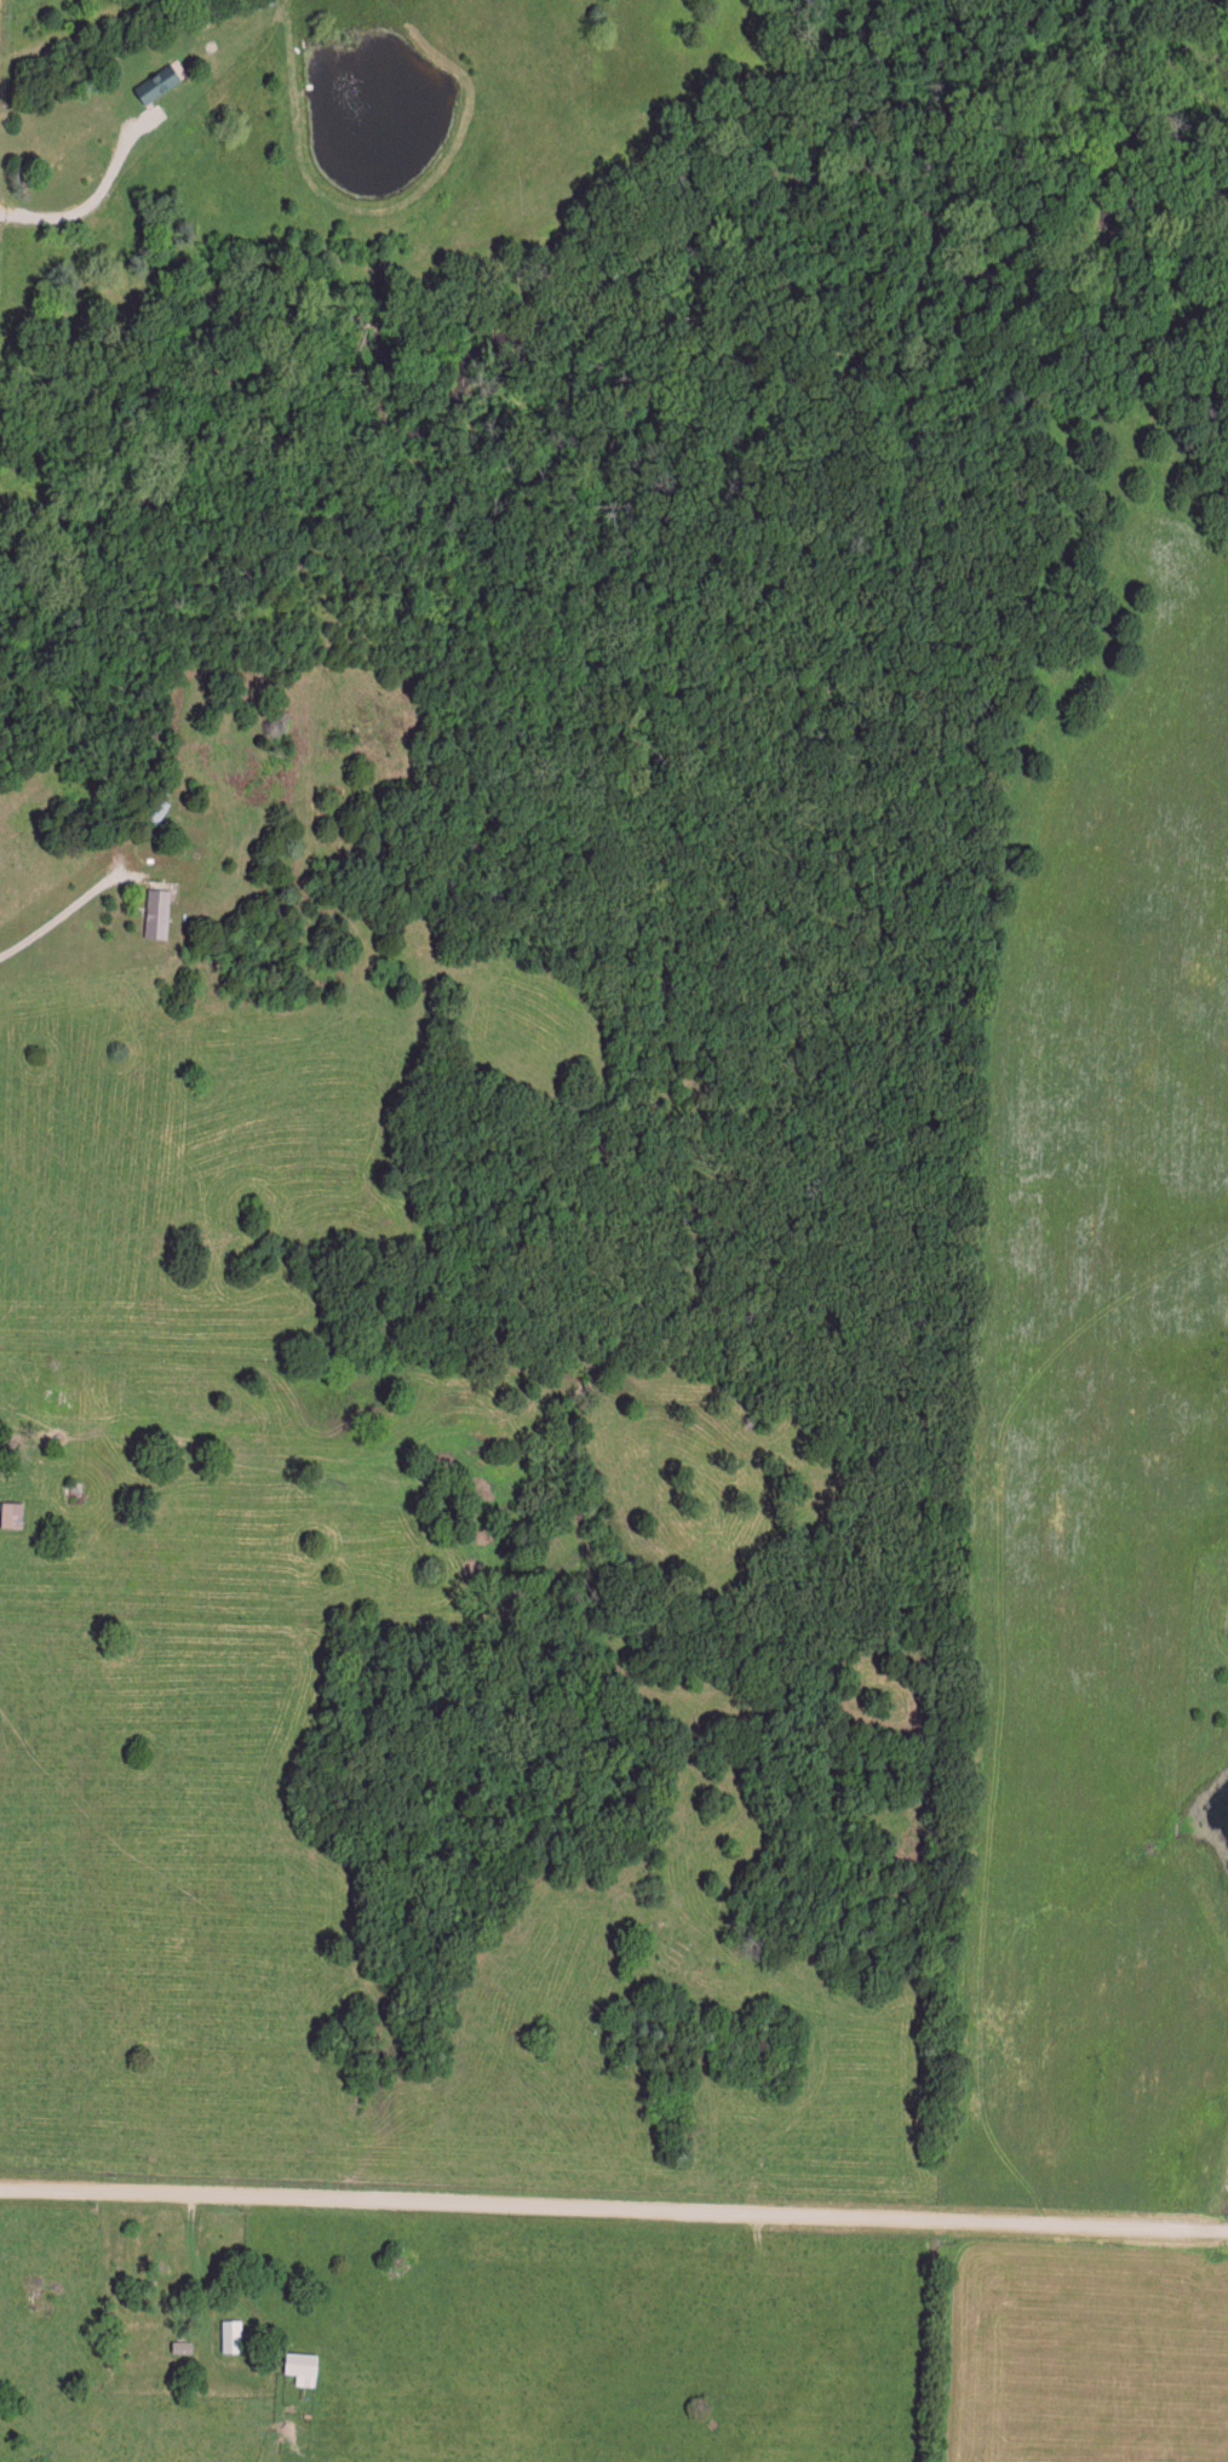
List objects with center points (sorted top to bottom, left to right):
road: (90, 197)
road: (74, 907)
building: (156, 910)
building: (10, 1512)
road: (797, 2124)
road: (94, 2191)
road: (707, 2215)
road: (191, 2260)
building: (230, 2332)
building: (300, 2365)

